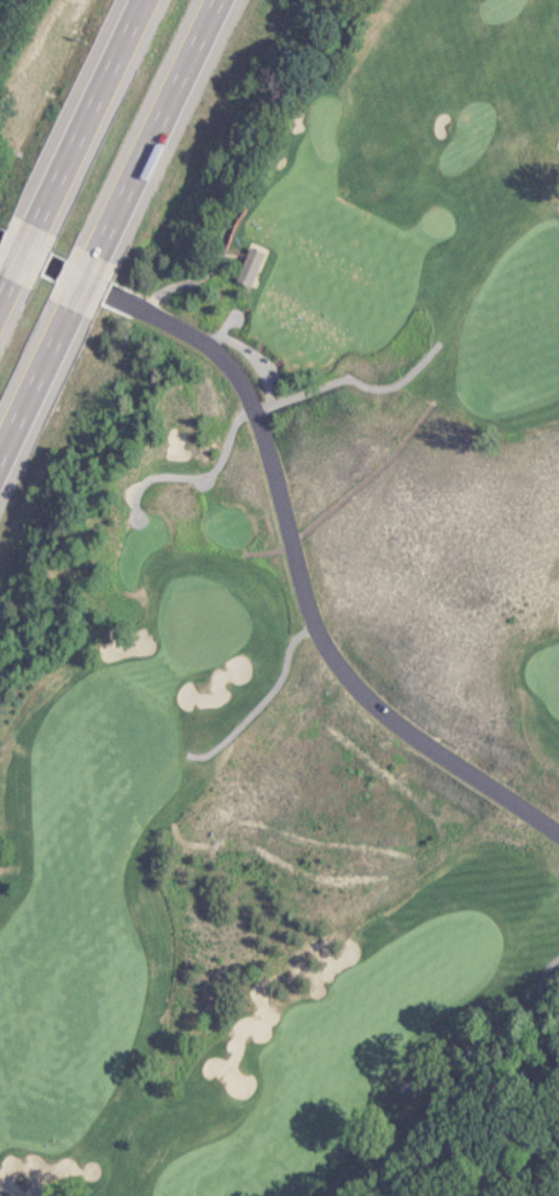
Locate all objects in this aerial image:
park: (497, 10)
road: (78, 120)
road: (149, 135)
park: (466, 137)
road: (245, 166)
park: (435, 221)
road: (16, 251)
building: (245, 271)
road: (5, 273)
road: (78, 283)
road: (227, 319)
road: (252, 361)
road: (263, 365)
road: (36, 370)
road: (349, 381)
road: (184, 475)
road: (200, 482)
road: (347, 493)
road: (128, 494)
park: (274, 585)
road: (301, 585)
park: (202, 628)
road: (261, 699)
road: (490, 1033)

